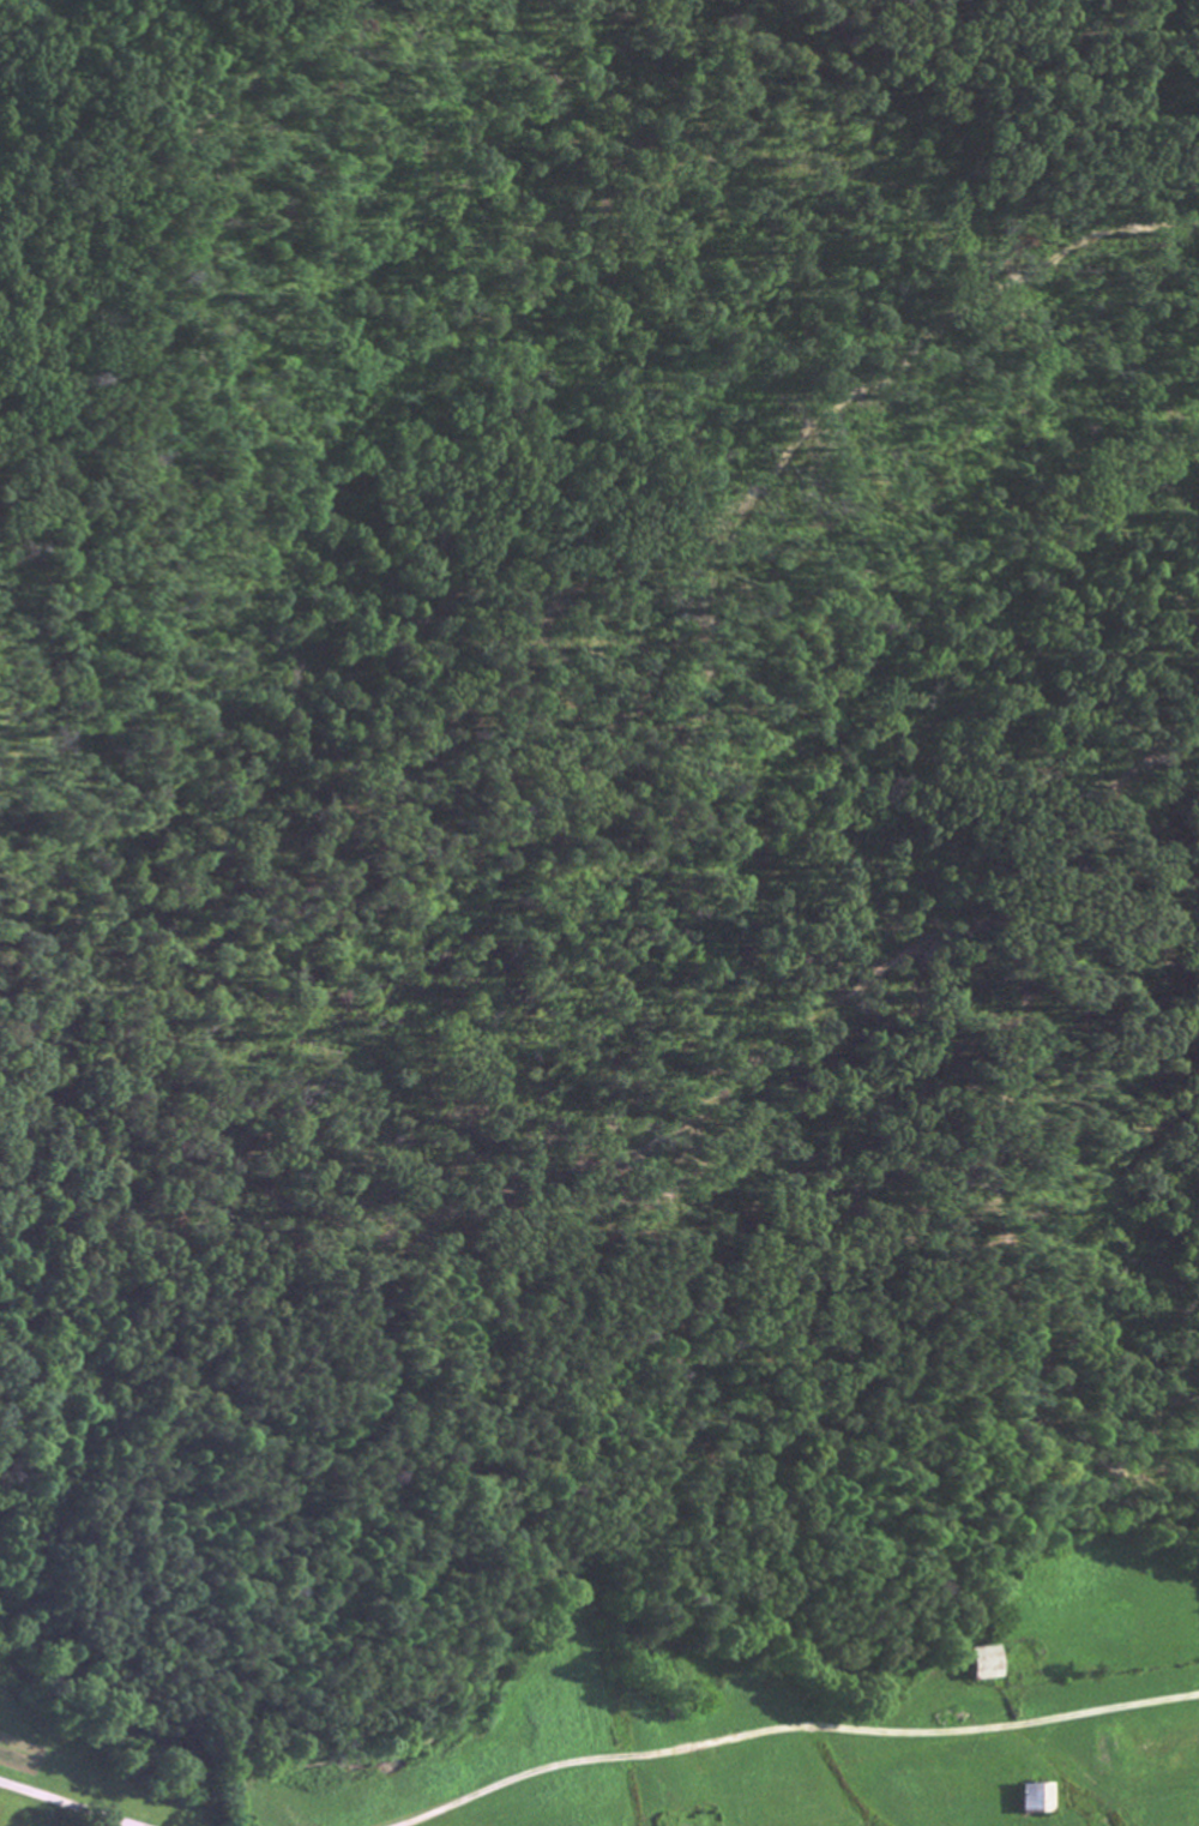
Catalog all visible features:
road: (543, 1776)
road: (64, 1804)

